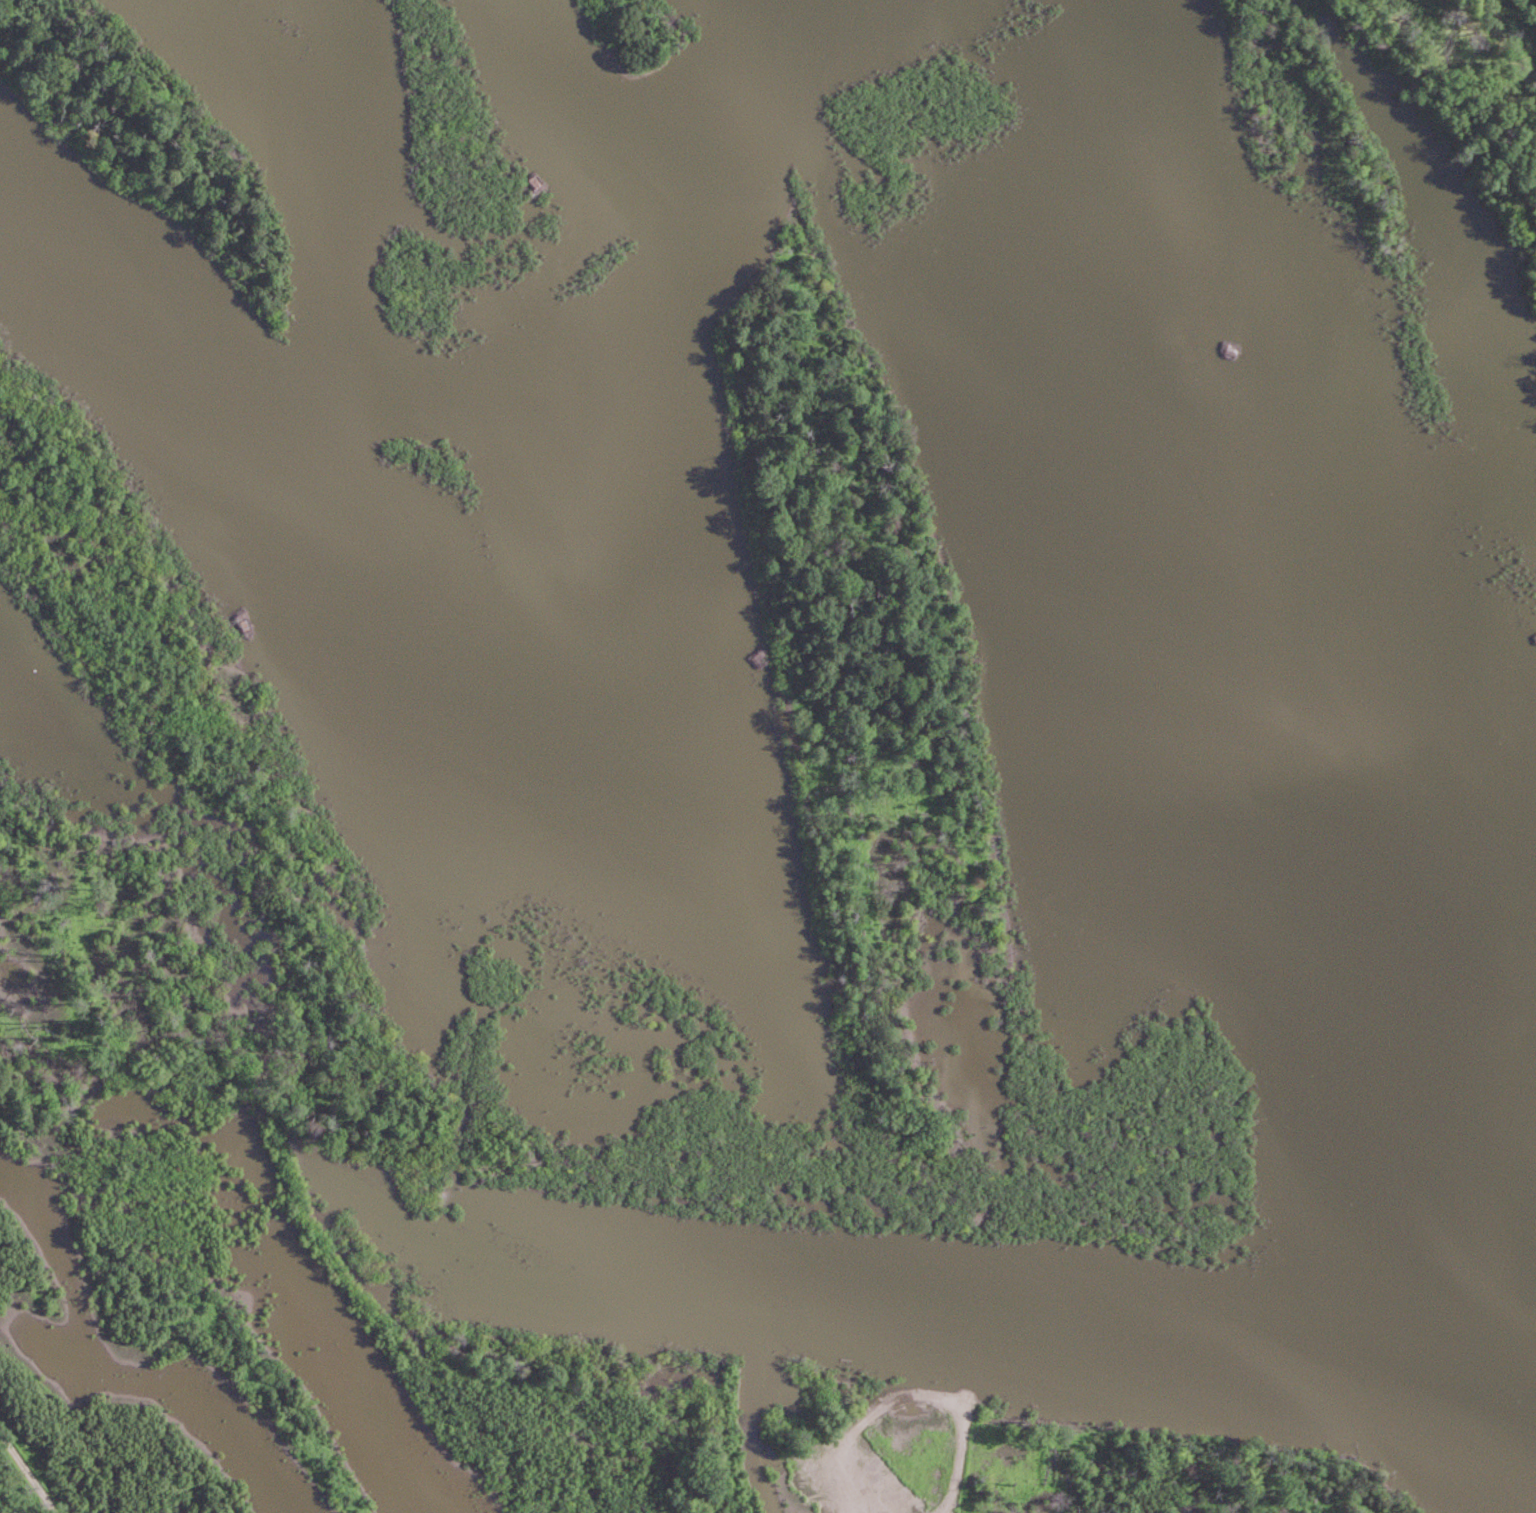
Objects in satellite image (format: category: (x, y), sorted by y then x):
road: (45, 1444)

